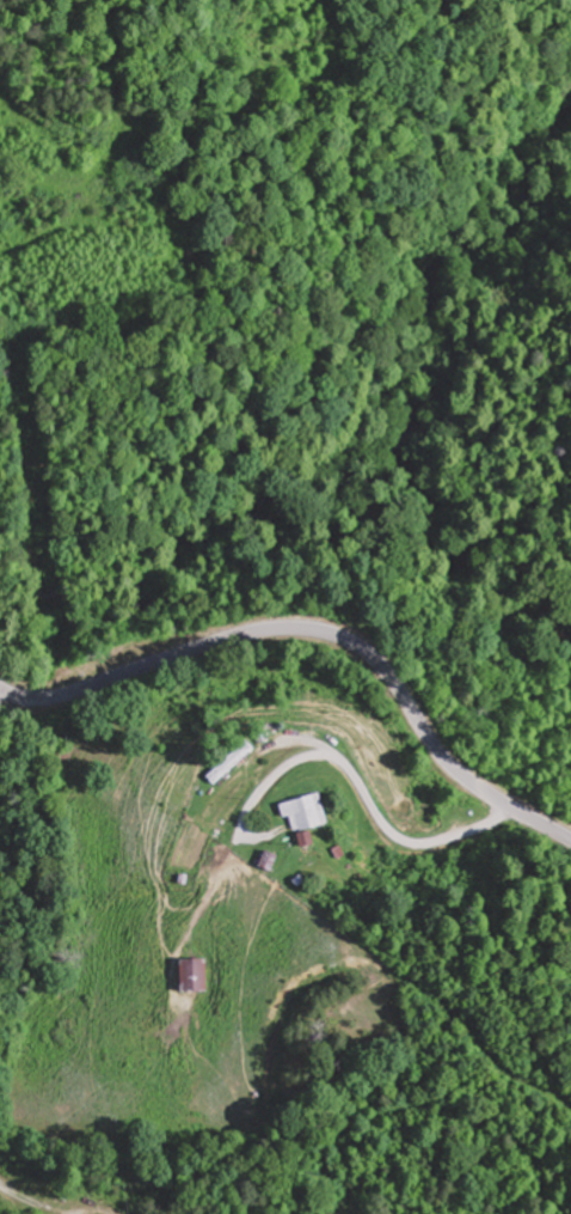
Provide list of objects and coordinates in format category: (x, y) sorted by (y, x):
road: (100, 155)
road: (318, 635)
road: (2, 698)
building: (227, 763)
road: (357, 789)
building: (297, 812)
building: (188, 976)
road: (27, 1200)

